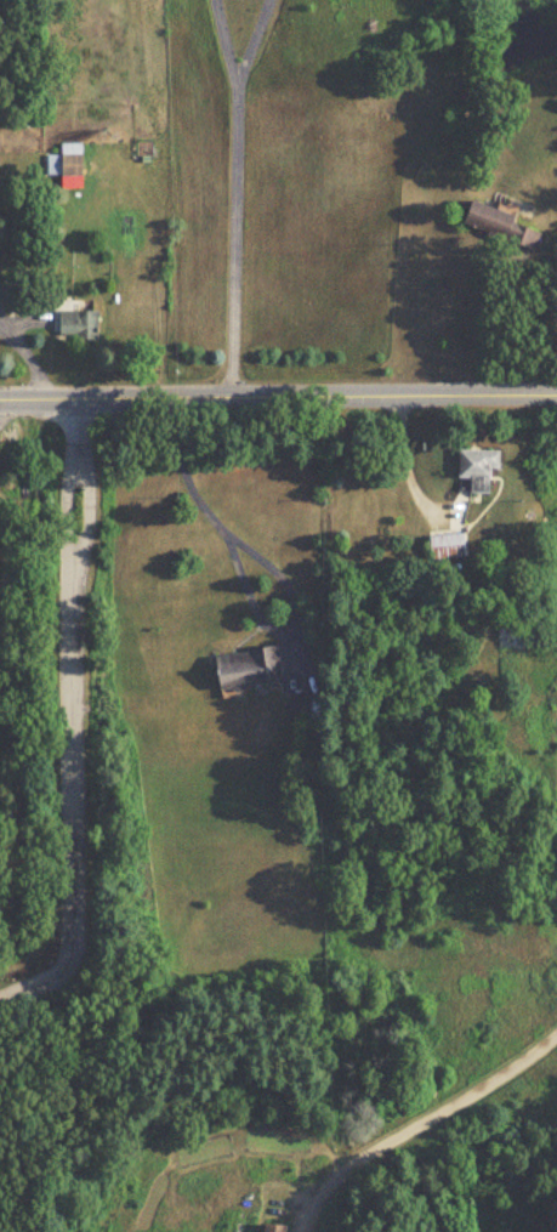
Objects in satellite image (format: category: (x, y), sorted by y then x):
road: (220, 41)
road: (246, 41)
building: (66, 166)
building: (496, 223)
road: (229, 243)
building: (8, 290)
building: (74, 324)
road: (519, 329)
road: (278, 402)
building: (474, 470)
building: (445, 547)
road: (239, 584)
building: (502, 629)
building: (246, 668)
road: (64, 717)
building: (51, 977)
road: (436, 1131)
building: (271, 1227)

